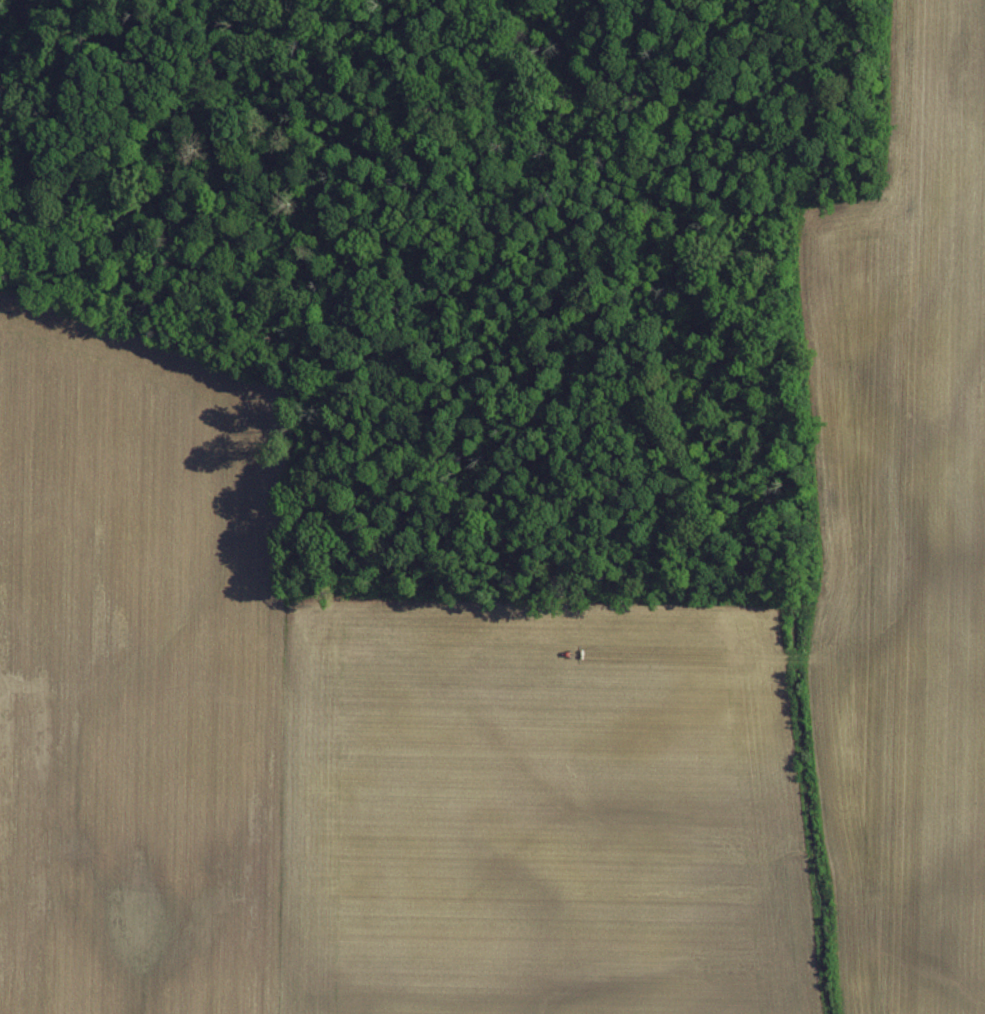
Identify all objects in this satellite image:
river: (19, 29)

